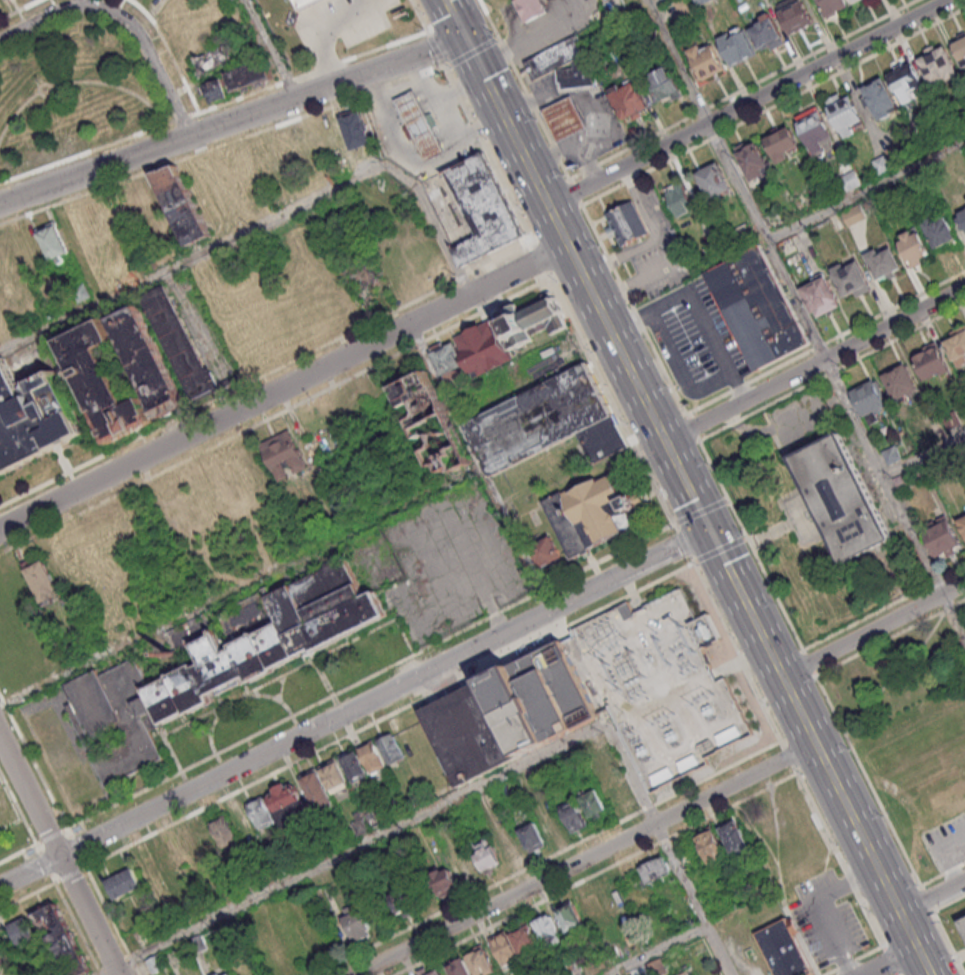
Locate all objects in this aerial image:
road: (652, 1)
building: (306, 3)
building: (832, 6)
building: (531, 9)
building: (794, 15)
road: (420, 17)
road: (456, 19)
road: (122, 21)
building: (765, 32)
traffic signals: (466, 38)
building: (737, 45)
building: (960, 48)
road: (271, 49)
road: (437, 50)
road: (472, 52)
building: (557, 58)
building: (211, 60)
building: (704, 60)
building: (937, 65)
building: (248, 76)
building: (579, 76)
building: (906, 81)
building: (665, 84)
park: (71, 90)
building: (216, 90)
building: (879, 98)
building: (628, 100)
road: (748, 102)
road: (213, 107)
building: (845, 113)
road: (232, 120)
building: (567, 120)
road: (508, 121)
building: (421, 127)
building: (814, 129)
building: (358, 132)
building: (782, 143)
road: (222, 145)
road: (487, 153)
building: (752, 159)
building: (712, 180)
building: (850, 180)
road: (866, 188)
building: (678, 198)
building: (142, 202)
building: (182, 204)
building: (481, 212)
building: (852, 214)
building: (962, 218)
road: (261, 222)
building: (625, 223)
building: (938, 230)
building: (55, 244)
building: (913, 246)
road: (538, 259)
building: (882, 262)
building: (849, 278)
building: (82, 294)
building: (819, 294)
road: (696, 309)
building: (756, 310)
road: (806, 319)
building: (528, 321)
road: (607, 323)
road: (641, 325)
building: (175, 340)
building: (956, 344)
building: (484, 349)
building: (930, 360)
building: (449, 362)
building: (142, 363)
road: (816, 364)
road: (264, 373)
building: (900, 381)
building: (95, 384)
road: (284, 386)
building: (869, 399)
road: (612, 401)
road: (274, 416)
building: (33, 418)
building: (952, 418)
building: (538, 419)
building: (435, 427)
building: (604, 440)
road: (923, 449)
building: (891, 453)
building: (284, 456)
road: (488, 481)
building: (902, 481)
road: (689, 485)
building: (842, 498)
road: (702, 512)
building: (593, 516)
building: (962, 523)
traffic signals: (711, 530)
building: (941, 535)
road: (684, 544)
road: (720, 551)
building: (548, 554)
building: (45, 584)
road: (241, 589)
road: (716, 607)
road: (874, 629)
road: (891, 638)
road: (741, 659)
road: (740, 660)
road: (811, 663)
building: (217, 669)
road: (582, 674)
road: (898, 674)
road: (371, 677)
power substation: (625, 688)
building: (539, 699)
road: (764, 704)
road: (355, 709)
road: (389, 715)
building: (468, 733)
building: (727, 734)
road: (821, 752)
building: (371, 756)
road: (789, 757)
road: (33, 762)
building: (687, 762)
building: (661, 775)
building: (324, 783)
building: (618, 794)
building: (287, 801)
building: (593, 803)
road: (18, 808)
building: (574, 816)
building: (552, 823)
road: (890, 826)
building: (532, 836)
building: (734, 837)
road: (51, 838)
building: (202, 840)
road: (665, 842)
parking lot: (947, 842)
building: (710, 845)
road: (354, 846)
building: (507, 846)
road: (77, 848)
road: (18, 854)
road: (60, 854)
building: (486, 855)
road: (549, 858)
road: (586, 858)
road: (840, 860)
road: (46, 864)
building: (150, 866)
building: (464, 868)
building: (656, 869)
road: (597, 874)
road: (70, 875)
road: (943, 875)
building: (443, 880)
building: (122, 883)
road: (932, 894)
road: (28, 897)
building: (401, 898)
road: (949, 903)
building: (592, 908)
building: (570, 917)
building: (962, 920)
road: (113, 921)
building: (359, 925)
road: (78, 929)
building: (548, 930)
building: (48, 933)
building: (504, 947)
building: (784, 949)
road: (657, 950)
building: (1, 960)
building: (480, 960)
road: (855, 960)
road: (891, 960)
road: (892, 961)
building: (156, 963)
building: (459, 967)
building: (434, 972)
building: (216, 974)
building: (227, 974)
building: (682, 974)

